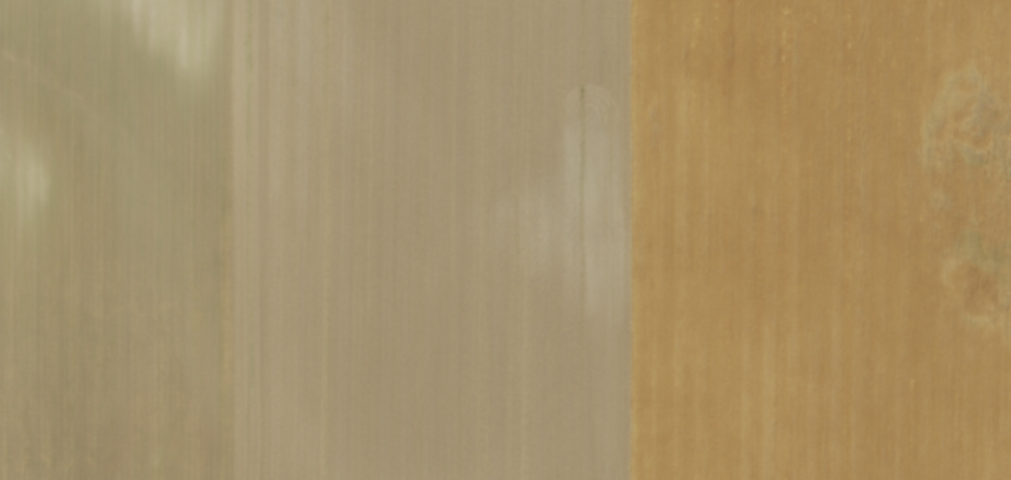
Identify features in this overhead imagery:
crop: (505, 240)

